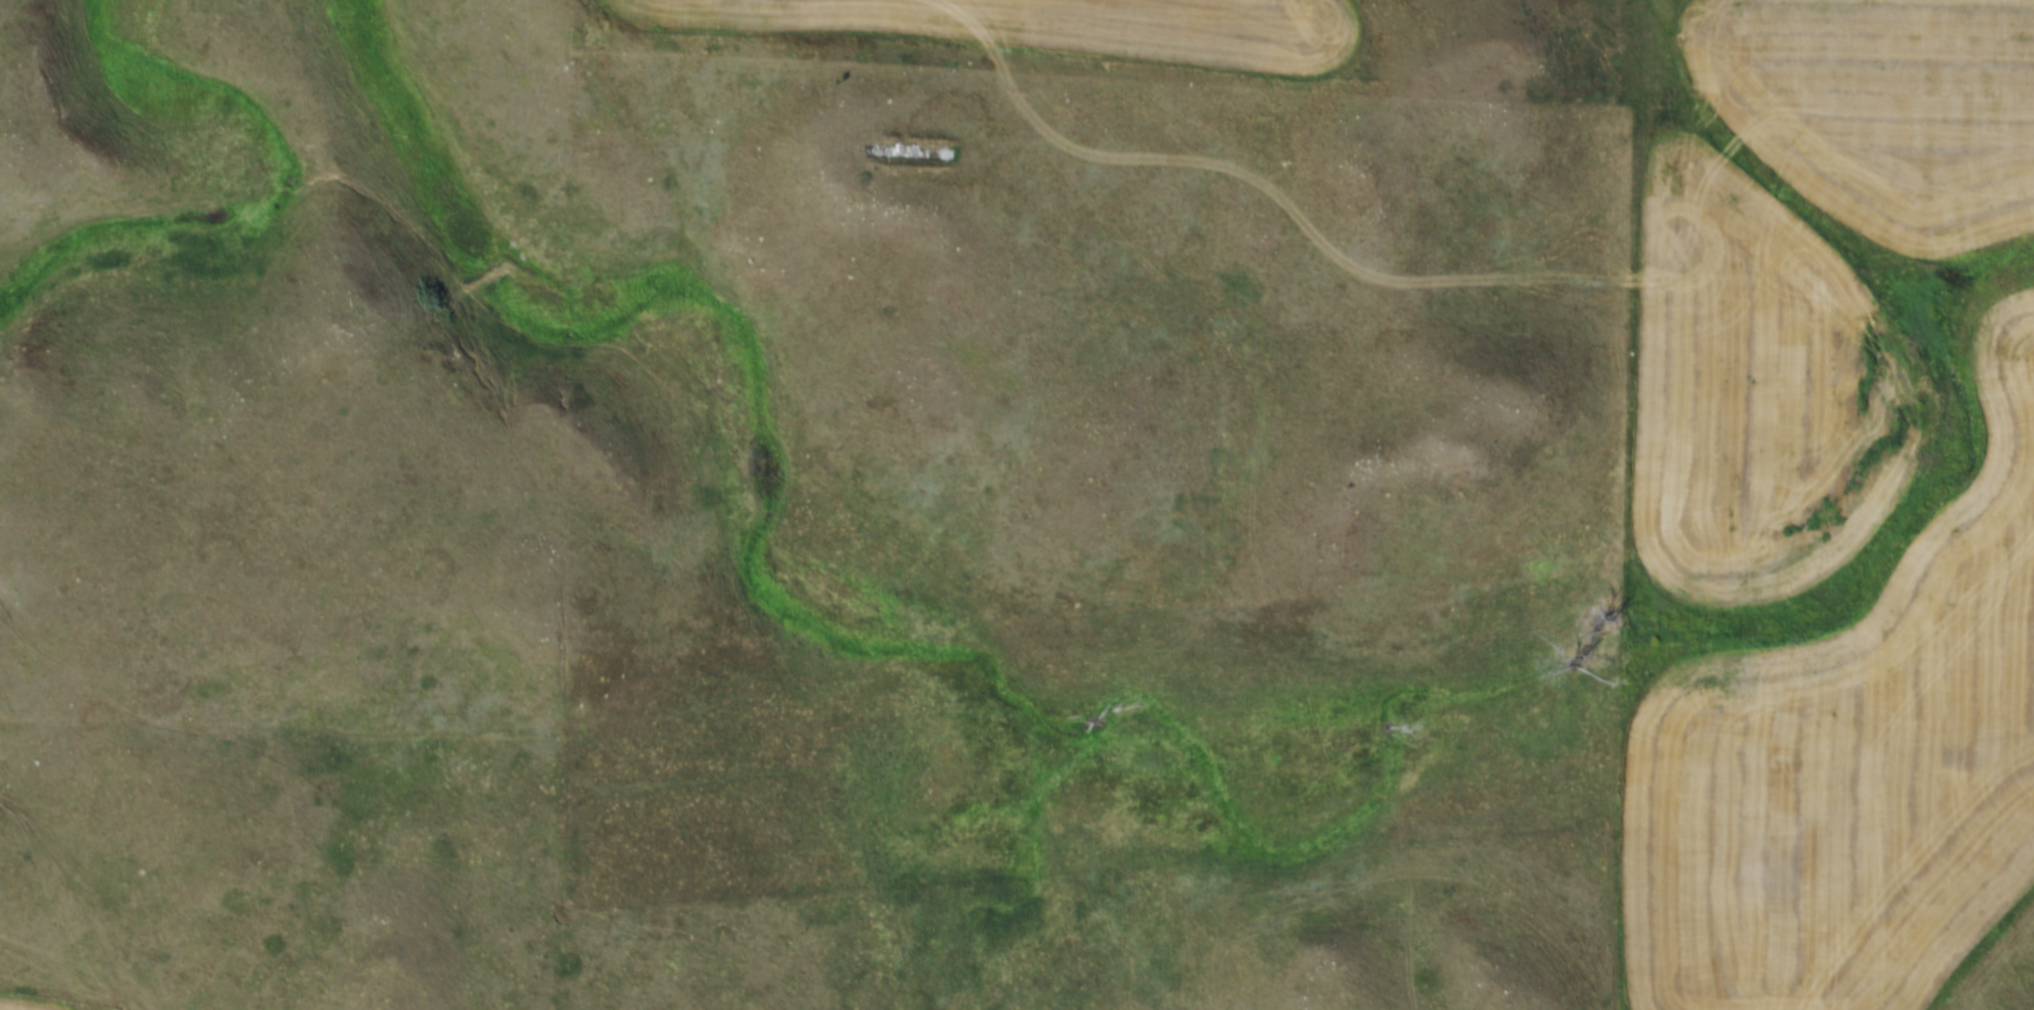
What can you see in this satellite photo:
road: (629, 220)
road: (1991, 957)
road: (82, 968)

